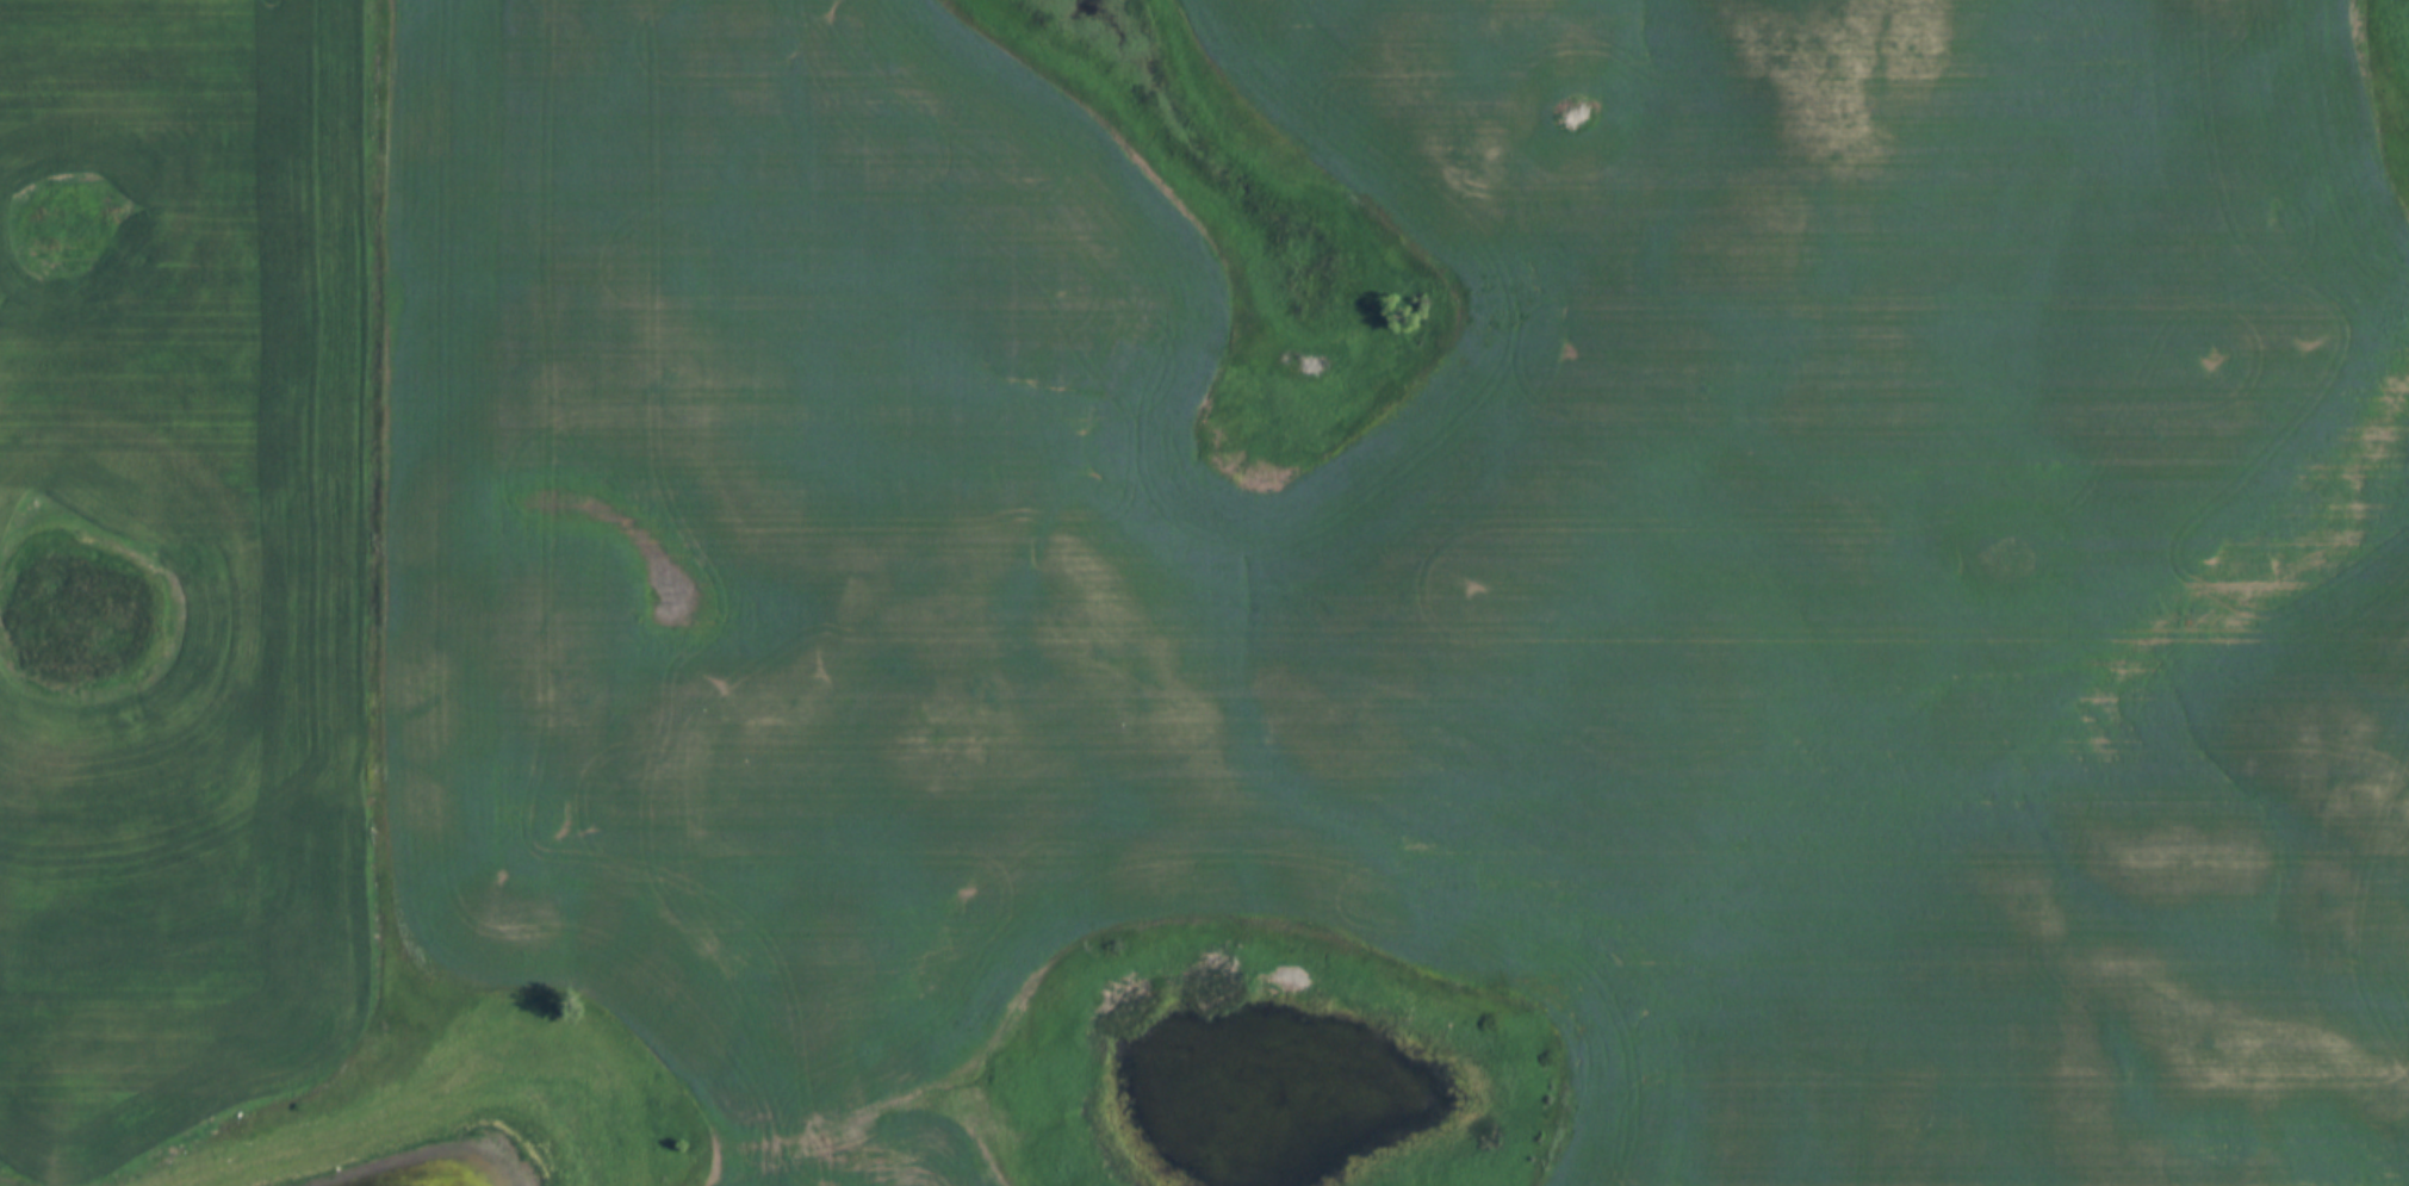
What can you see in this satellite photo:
wind turbine: (1991, 538)

